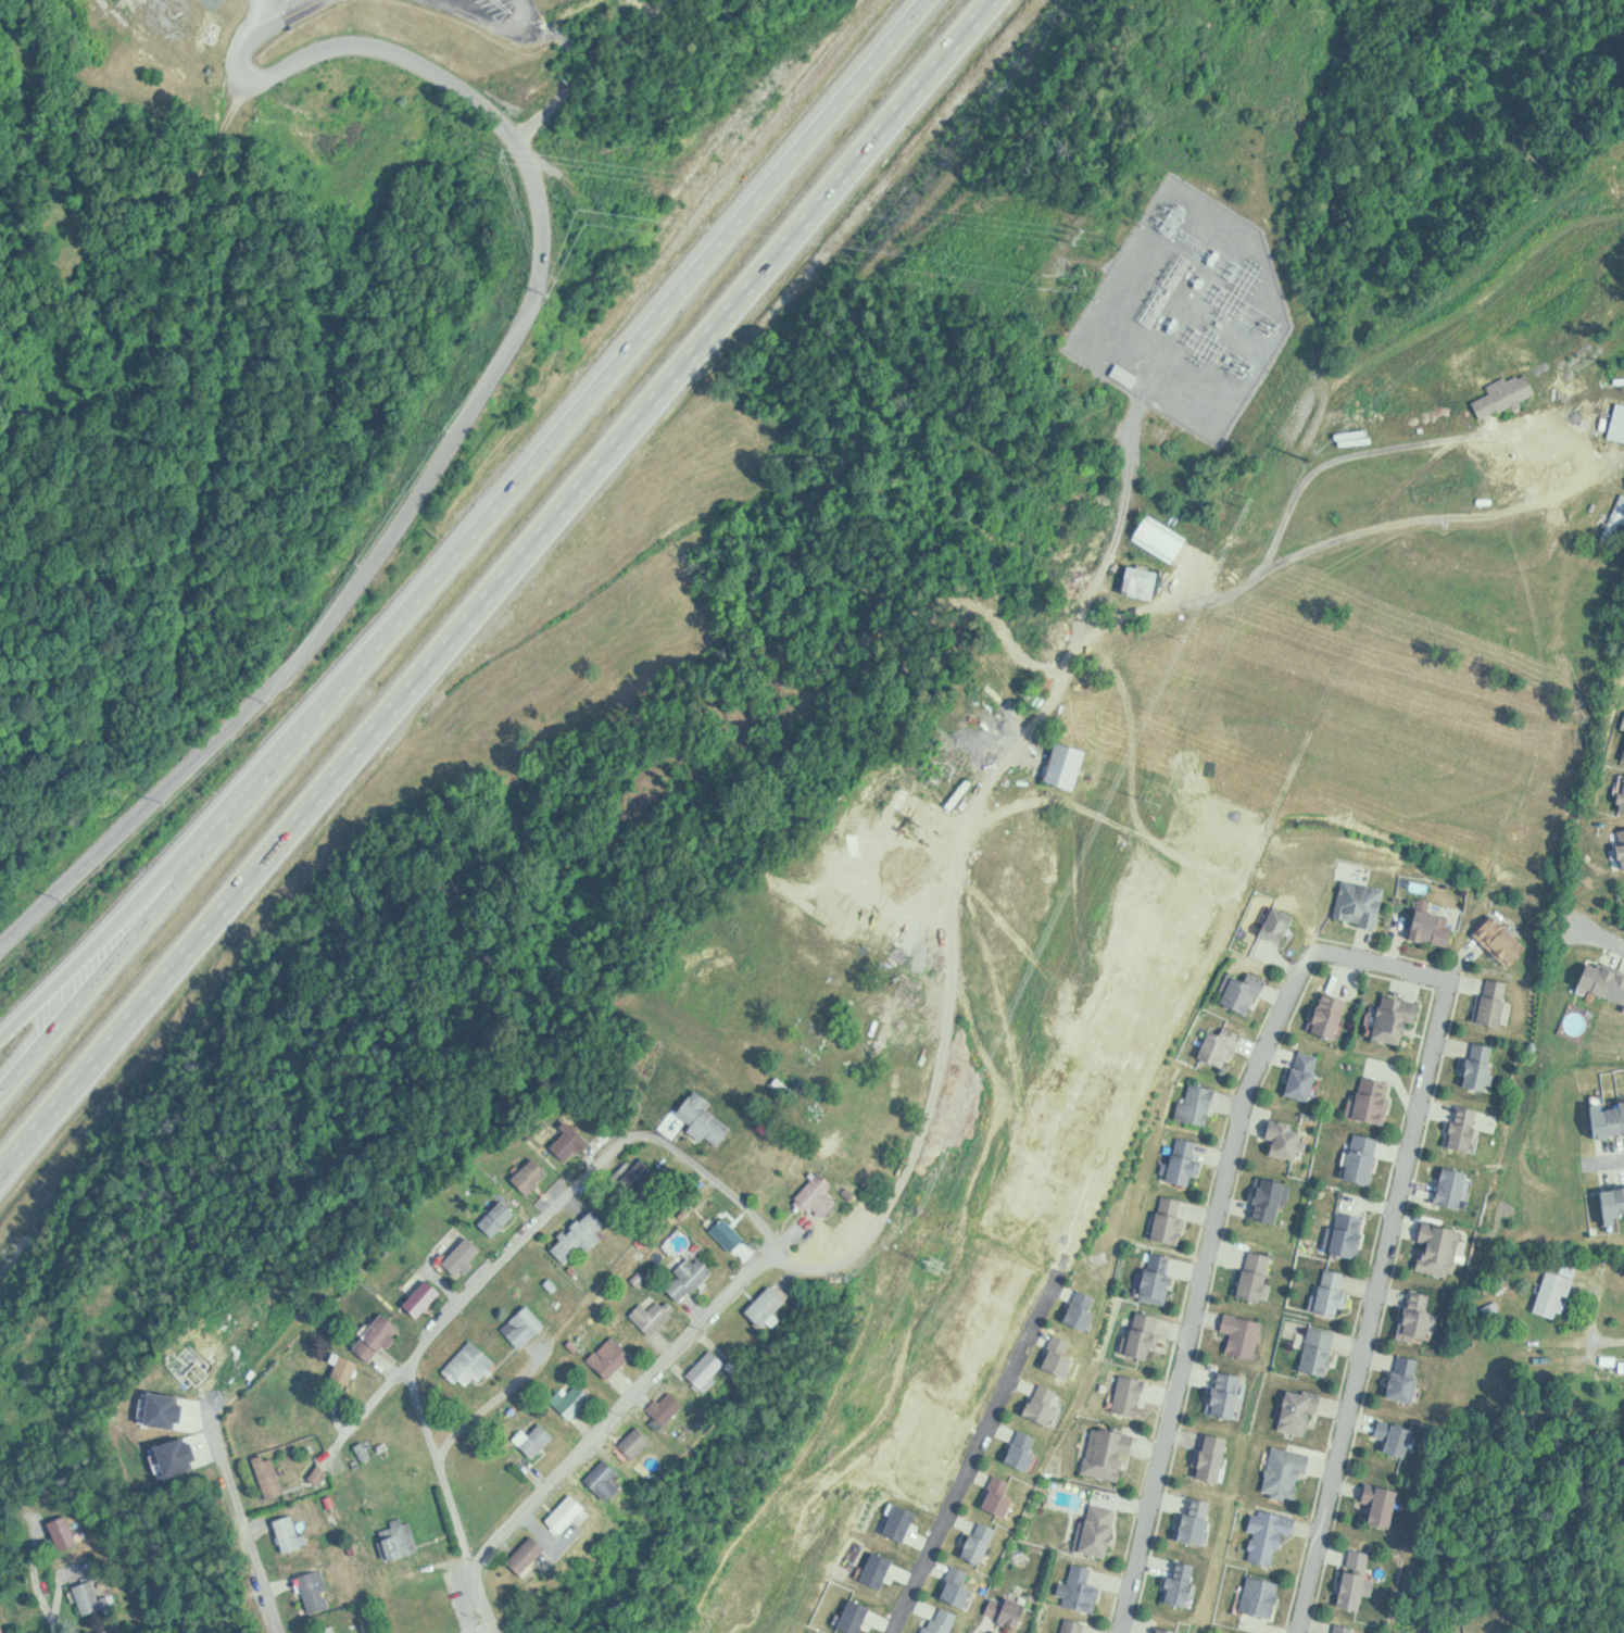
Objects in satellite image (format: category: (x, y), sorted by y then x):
parking lot: (498, 16)
road: (506, 28)
road: (148, 228)
power substation: (1184, 324)
building: (1126, 373)
building: (1515, 392)
road: (467, 407)
building: (1620, 423)
building: (1357, 436)
power tower: (1305, 465)
road: (1336, 538)
building: (1163, 539)
road: (463, 548)
building: (1144, 582)
road: (495, 587)
building: (1070, 765)
power tower: (1149, 797)
building: (1622, 797)
building: (1623, 837)
road: (959, 870)
building: (922, 899)
building: (1358, 902)
road: (127, 916)
building: (1270, 925)
building: (1424, 925)
road: (1599, 935)
building: (1495, 939)
road: (1220, 941)
road: (1, 950)
road: (1360, 957)
building: (1604, 980)
building: (1248, 992)
building: (1488, 1001)
building: (1330, 1013)
building: (1398, 1018)
building: (1223, 1046)
building: (1483, 1066)
building: (1296, 1076)
building: (1375, 1098)
building: (1192, 1104)
building: (698, 1118)
building: (1610, 1118)
building: (1466, 1127)
building: (1275, 1138)
building: (567, 1141)
building: (1364, 1157)
road: (1613, 1160)
building: (1187, 1161)
building: (527, 1177)
road: (720, 1180)
building: (1446, 1186)
building: (813, 1195)
building: (1272, 1199)
building: (1615, 1205)
building: (493, 1216)
building: (1173, 1220)
building: (731, 1233)
building: (1350, 1233)
building: (575, 1235)
road: (520, 1239)
building: (1440, 1248)
building: (457, 1256)
power tower: (932, 1270)
building: (1259, 1274)
building: (1160, 1277)
building: (685, 1279)
building: (1335, 1293)
building: (1548, 1294)
building: (417, 1296)
building: (761, 1306)
building: (1086, 1310)
building: (649, 1316)
building: (1419, 1316)
building: (519, 1326)
building: (1237, 1333)
building: (1145, 1334)
building: (373, 1336)
road: (539, 1351)
building: (1063, 1357)
building: (607, 1358)
building: (465, 1361)
building: (701, 1367)
building: (1623, 1367)
building: (347, 1368)
building: (1408, 1379)
building: (1122, 1394)
building: (1230, 1394)
building: (568, 1399)
building: (1048, 1406)
building: (147, 1407)
road: (619, 1407)
building: (663, 1407)
building: (1301, 1411)
road: (365, 1412)
building: (1397, 1437)
building: (530, 1439)
building: (639, 1443)
building: (1028, 1449)
road: (975, 1452)
building: (1111, 1453)
building: (163, 1456)
building: (1217, 1458)
building: (1288, 1473)
building: (322, 1474)
building: (264, 1477)
building: (600, 1479)
road: (452, 1493)
building: (993, 1496)
building: (1383, 1504)
building: (561, 1512)
road: (246, 1516)
building: (894, 1521)
building: (1198, 1521)
building: (1091, 1531)
building: (66, 1532)
building: (286, 1533)
building: (1271, 1535)
building: (403, 1538)
building: (983, 1543)
building: (521, 1553)
building: (871, 1569)
building: (1358, 1579)
building: (1185, 1583)
building: (961, 1587)
building: (1085, 1590)
building: (312, 1591)
building: (1262, 1595)
building: (91, 1596)
road: (62, 1601)
building: (1011, 1609)
building: (848, 1617)
building: (944, 1620)
building: (1072, 1625)
building: (2, 1626)
building: (1344, 1628)
building: (332, 1629)
building: (108, 1631)
building: (1172, 1631)

